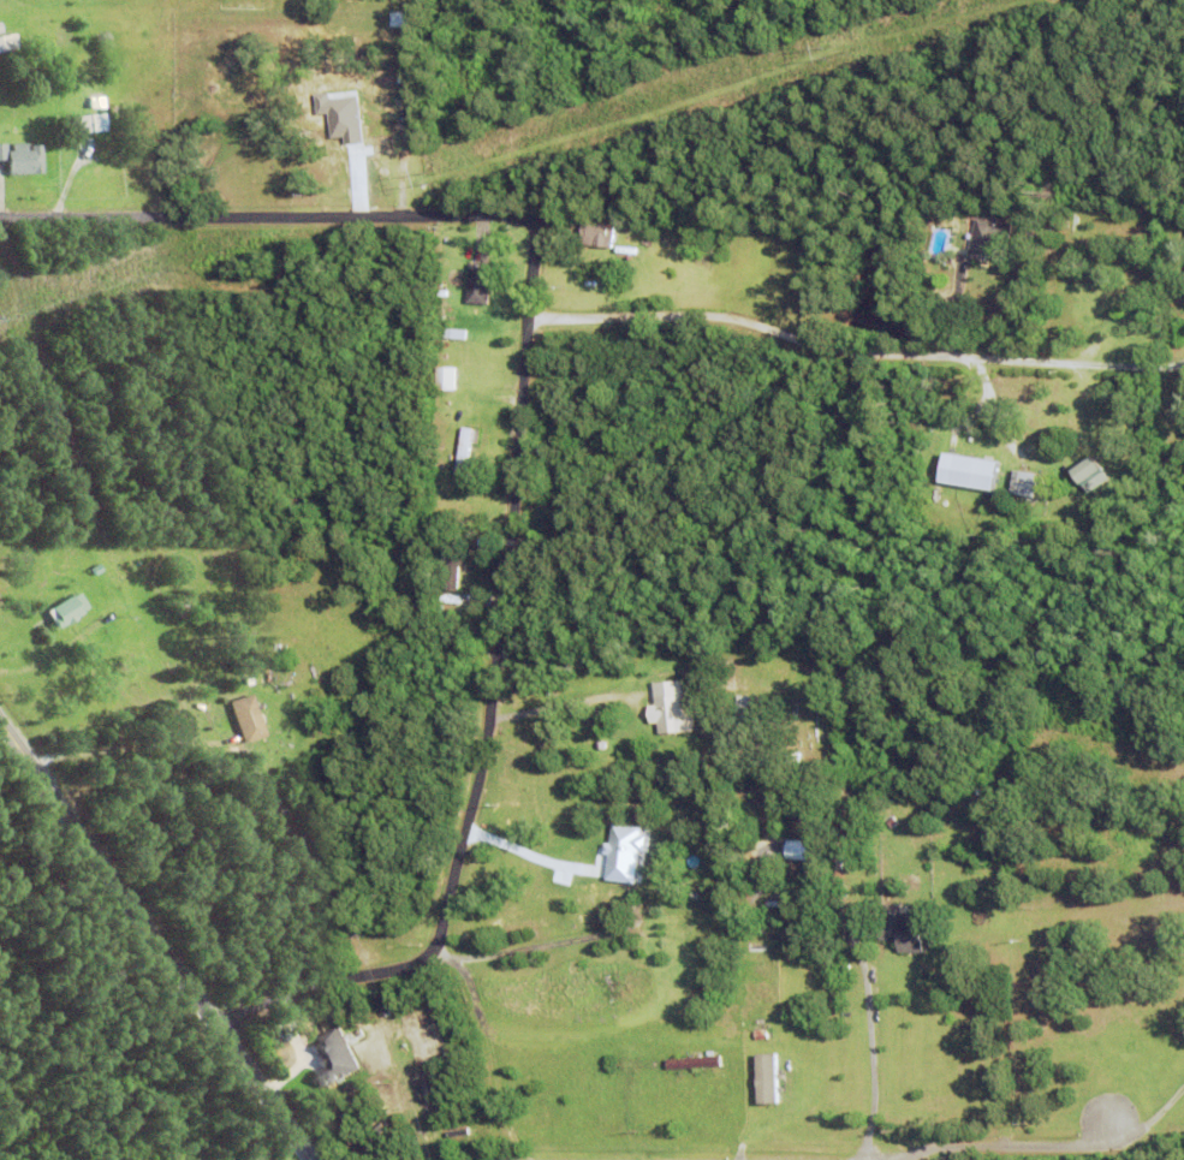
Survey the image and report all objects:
building: (0, 30)
building: (8, 42)
building: (78, 126)
building: (22, 160)
road: (174, 216)
building: (596, 237)
building: (988, 242)
building: (478, 285)
building: (441, 295)
building: (1102, 340)
road: (853, 351)
building: (445, 380)
building: (465, 451)
building: (965, 471)
building: (1002, 475)
building: (1090, 477)
building: (1024, 486)
building: (442, 558)
building: (456, 569)
building: (96, 571)
building: (123, 575)
building: (180, 608)
building: (67, 613)
road: (505, 613)
building: (286, 679)
building: (785, 695)
building: (668, 710)
building: (248, 721)
building: (676, 752)
road: (124, 755)
building: (982, 792)
road: (523, 853)
building: (620, 853)
building: (777, 897)
building: (698, 915)
building: (905, 932)
road: (157, 936)
building: (672, 936)
road: (548, 950)
building: (756, 952)
road: (476, 1054)
building: (331, 1055)
road: (874, 1055)
building: (692, 1065)
building: (714, 1076)
building: (763, 1077)
road: (1084, 1146)

